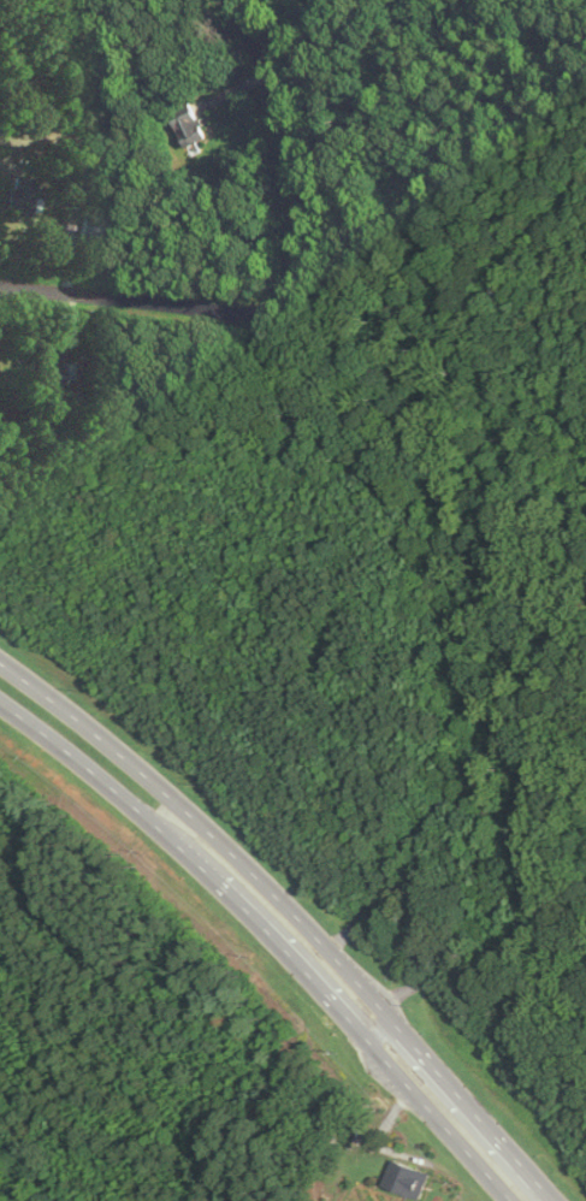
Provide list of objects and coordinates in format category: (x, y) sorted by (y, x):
building: (190, 126)
road: (295, 161)
building: (93, 227)
road: (126, 296)
building: (46, 371)
road: (294, 913)
road: (270, 939)
building: (402, 1178)

